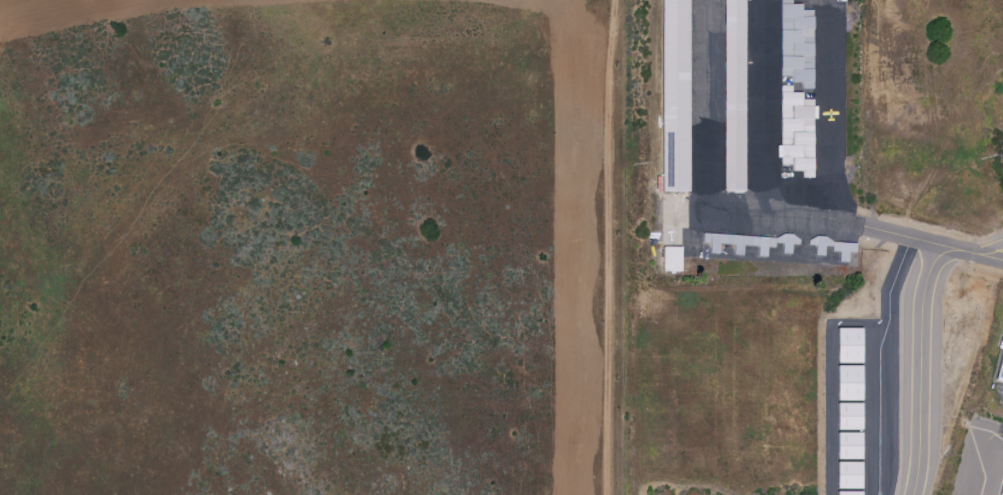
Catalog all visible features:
building: (797, 44)
building: (676, 95)
building: (734, 96)
airport taxiway: (763, 107)
airport taxiway: (828, 116)
building: (796, 131)
airport taxiway: (753, 213)
building: (729, 242)
building: (789, 242)
building: (767, 244)
building: (825, 245)
road: (616, 247)
airport: (813, 247)
building: (846, 251)
airport taxiway: (991, 253)
building: (672, 258)
building: (850, 346)
airport taxiway: (880, 364)
airport taxiway: (921, 369)
building: (999, 372)
building: (849, 383)
building: (849, 417)
airport taxiway: (999, 435)
building: (850, 446)
airport taxiway: (988, 465)
building: (850, 475)
building: (1001, 488)
building: (849, 493)

